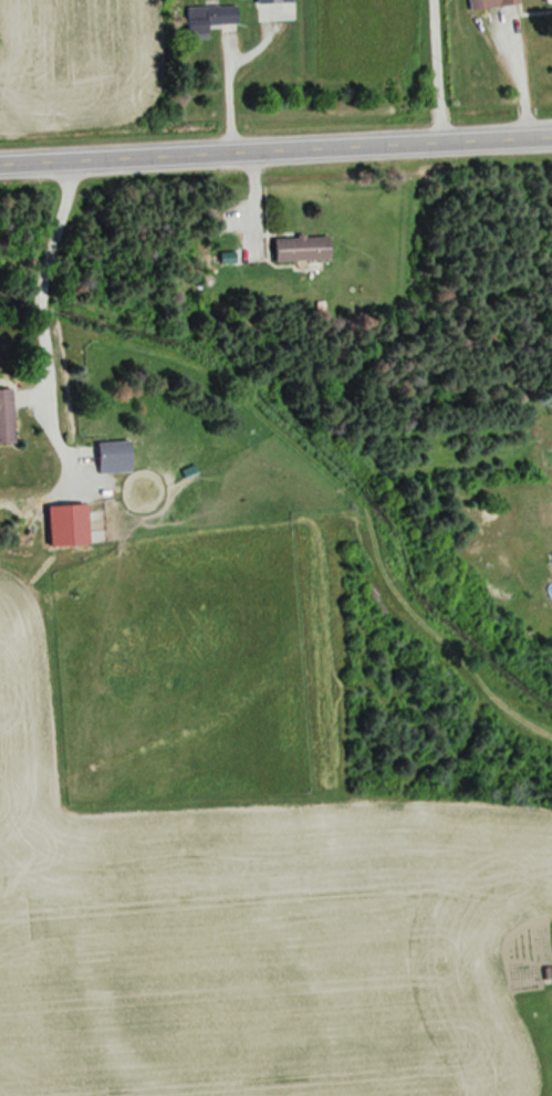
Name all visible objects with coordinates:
building: (548, 0)
building: (272, 1)
building: (489, 3)
building: (207, 19)
road: (275, 150)
building: (300, 249)
building: (6, 416)
building: (112, 456)
building: (66, 525)

